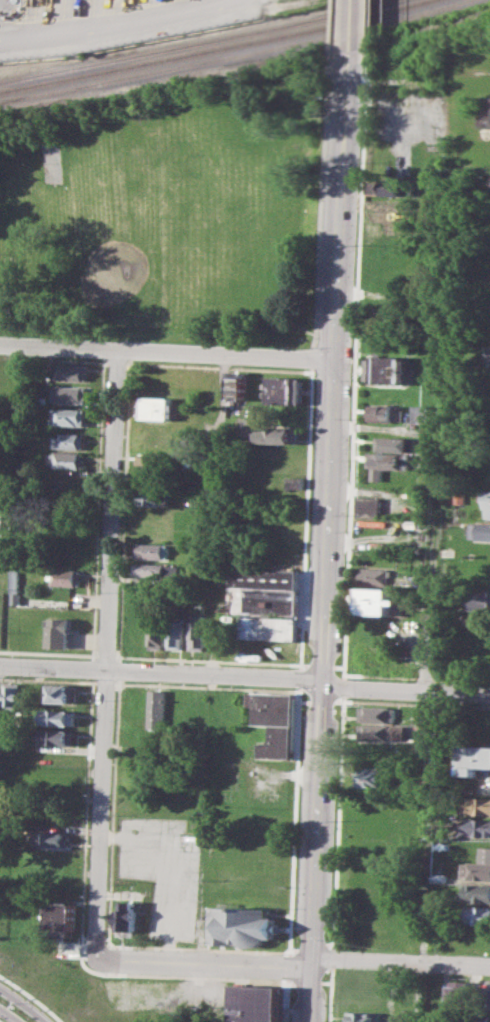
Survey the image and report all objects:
road: (113, 25)
road: (367, 25)
road: (353, 28)
road: (328, 29)
railway: (194, 43)
railway: (215, 48)
railway: (235, 55)
building: (485, 110)
park: (55, 164)
building: (390, 186)
road: (322, 201)
building: (395, 208)
park: (185, 210)
park: (168, 211)
building: (391, 229)
building: (393, 317)
road: (306, 328)
road: (166, 350)
building: (488, 354)
road: (315, 355)
road: (53, 358)
road: (116, 362)
road: (354, 363)
road: (219, 366)
building: (390, 369)
building: (72, 371)
building: (237, 385)
building: (286, 388)
building: (70, 393)
building: (159, 408)
building: (385, 413)
building: (423, 414)
building: (69, 416)
building: (281, 434)
building: (159, 435)
building: (69, 440)
building: (394, 444)
building: (65, 459)
building: (156, 461)
building: (386, 463)
building: (156, 478)
building: (296, 482)
building: (199, 483)
building: (155, 496)
building: (485, 502)
building: (368, 506)
road: (98, 509)
road: (327, 510)
road: (124, 511)
road: (218, 514)
road: (307, 517)
building: (480, 530)
building: (153, 551)
building: (65, 557)
building: (157, 572)
building: (375, 576)
building: (65, 577)
building: (266, 578)
building: (15, 599)
building: (479, 599)
building: (265, 600)
building: (378, 601)
building: (271, 627)
building: (159, 630)
building: (177, 630)
building: (198, 630)
building: (60, 632)
road: (107, 652)
road: (48, 653)
road: (106, 655)
road: (208, 659)
road: (92, 667)
road: (119, 670)
road: (246, 675)
road: (300, 676)
road: (46, 679)
road: (92, 679)
road: (105, 682)
road: (207, 686)
road: (342, 686)
building: (61, 693)
road: (432, 693)
building: (13, 695)
road: (342, 698)
road: (392, 702)
building: (158, 708)
building: (228, 712)
building: (378, 714)
building: (58, 717)
building: (277, 723)
building: (381, 732)
building: (57, 737)
building: (474, 757)
building: (373, 776)
building: (477, 805)
road: (87, 809)
road: (113, 813)
road: (295, 820)
building: (476, 826)
building: (53, 838)
building: (443, 845)
building: (479, 866)
parking lot: (163, 870)
building: (440, 878)
building: (475, 893)
building: (477, 914)
building: (63, 917)
building: (129, 917)
building: (244, 926)
road: (92, 943)
road: (331, 945)
road: (197, 948)
road: (331, 958)
road: (107, 959)
road: (398, 960)
road: (202, 963)
road: (288, 966)
road: (196, 976)
road: (200, 992)
building: (462, 992)
road: (308, 993)
road: (329, 994)
building: (487, 996)
road: (29, 998)
building: (435, 998)
road: (286, 1000)
street lamp: (6, 1003)
building: (259, 1003)
road: (20, 1005)
building: (362, 1015)
road: (5, 1017)
building: (480, 1018)

